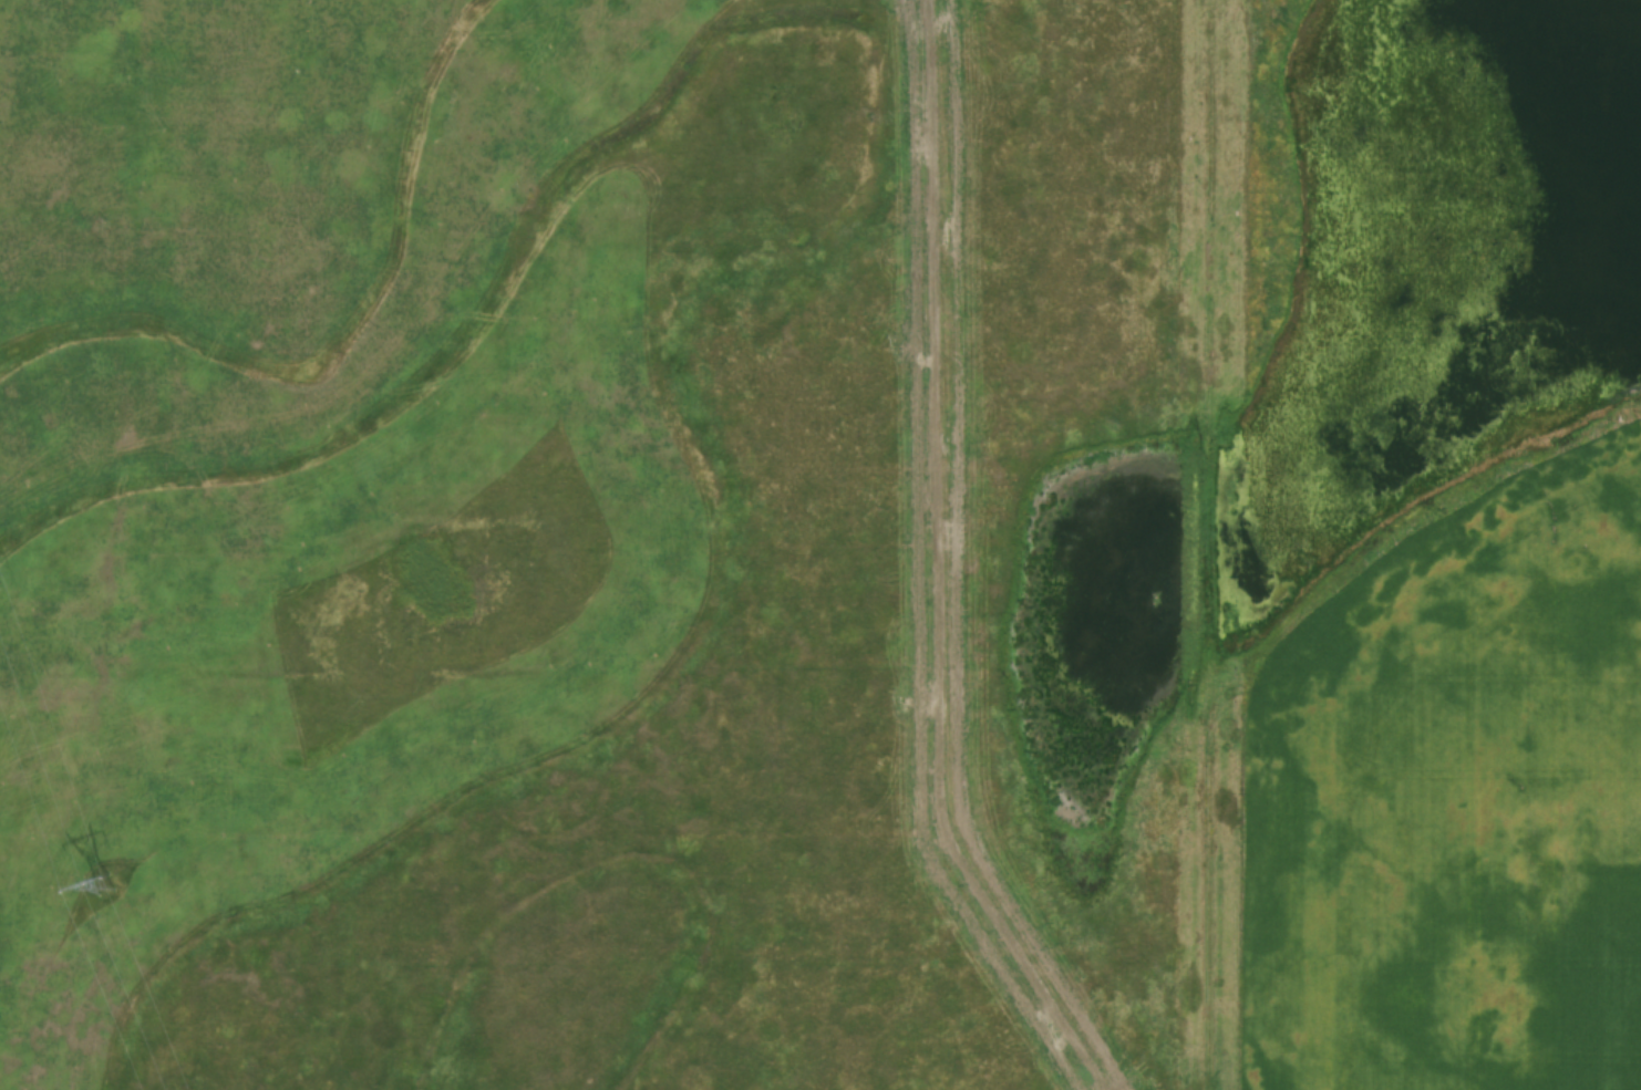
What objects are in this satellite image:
power tower: (105, 884)

